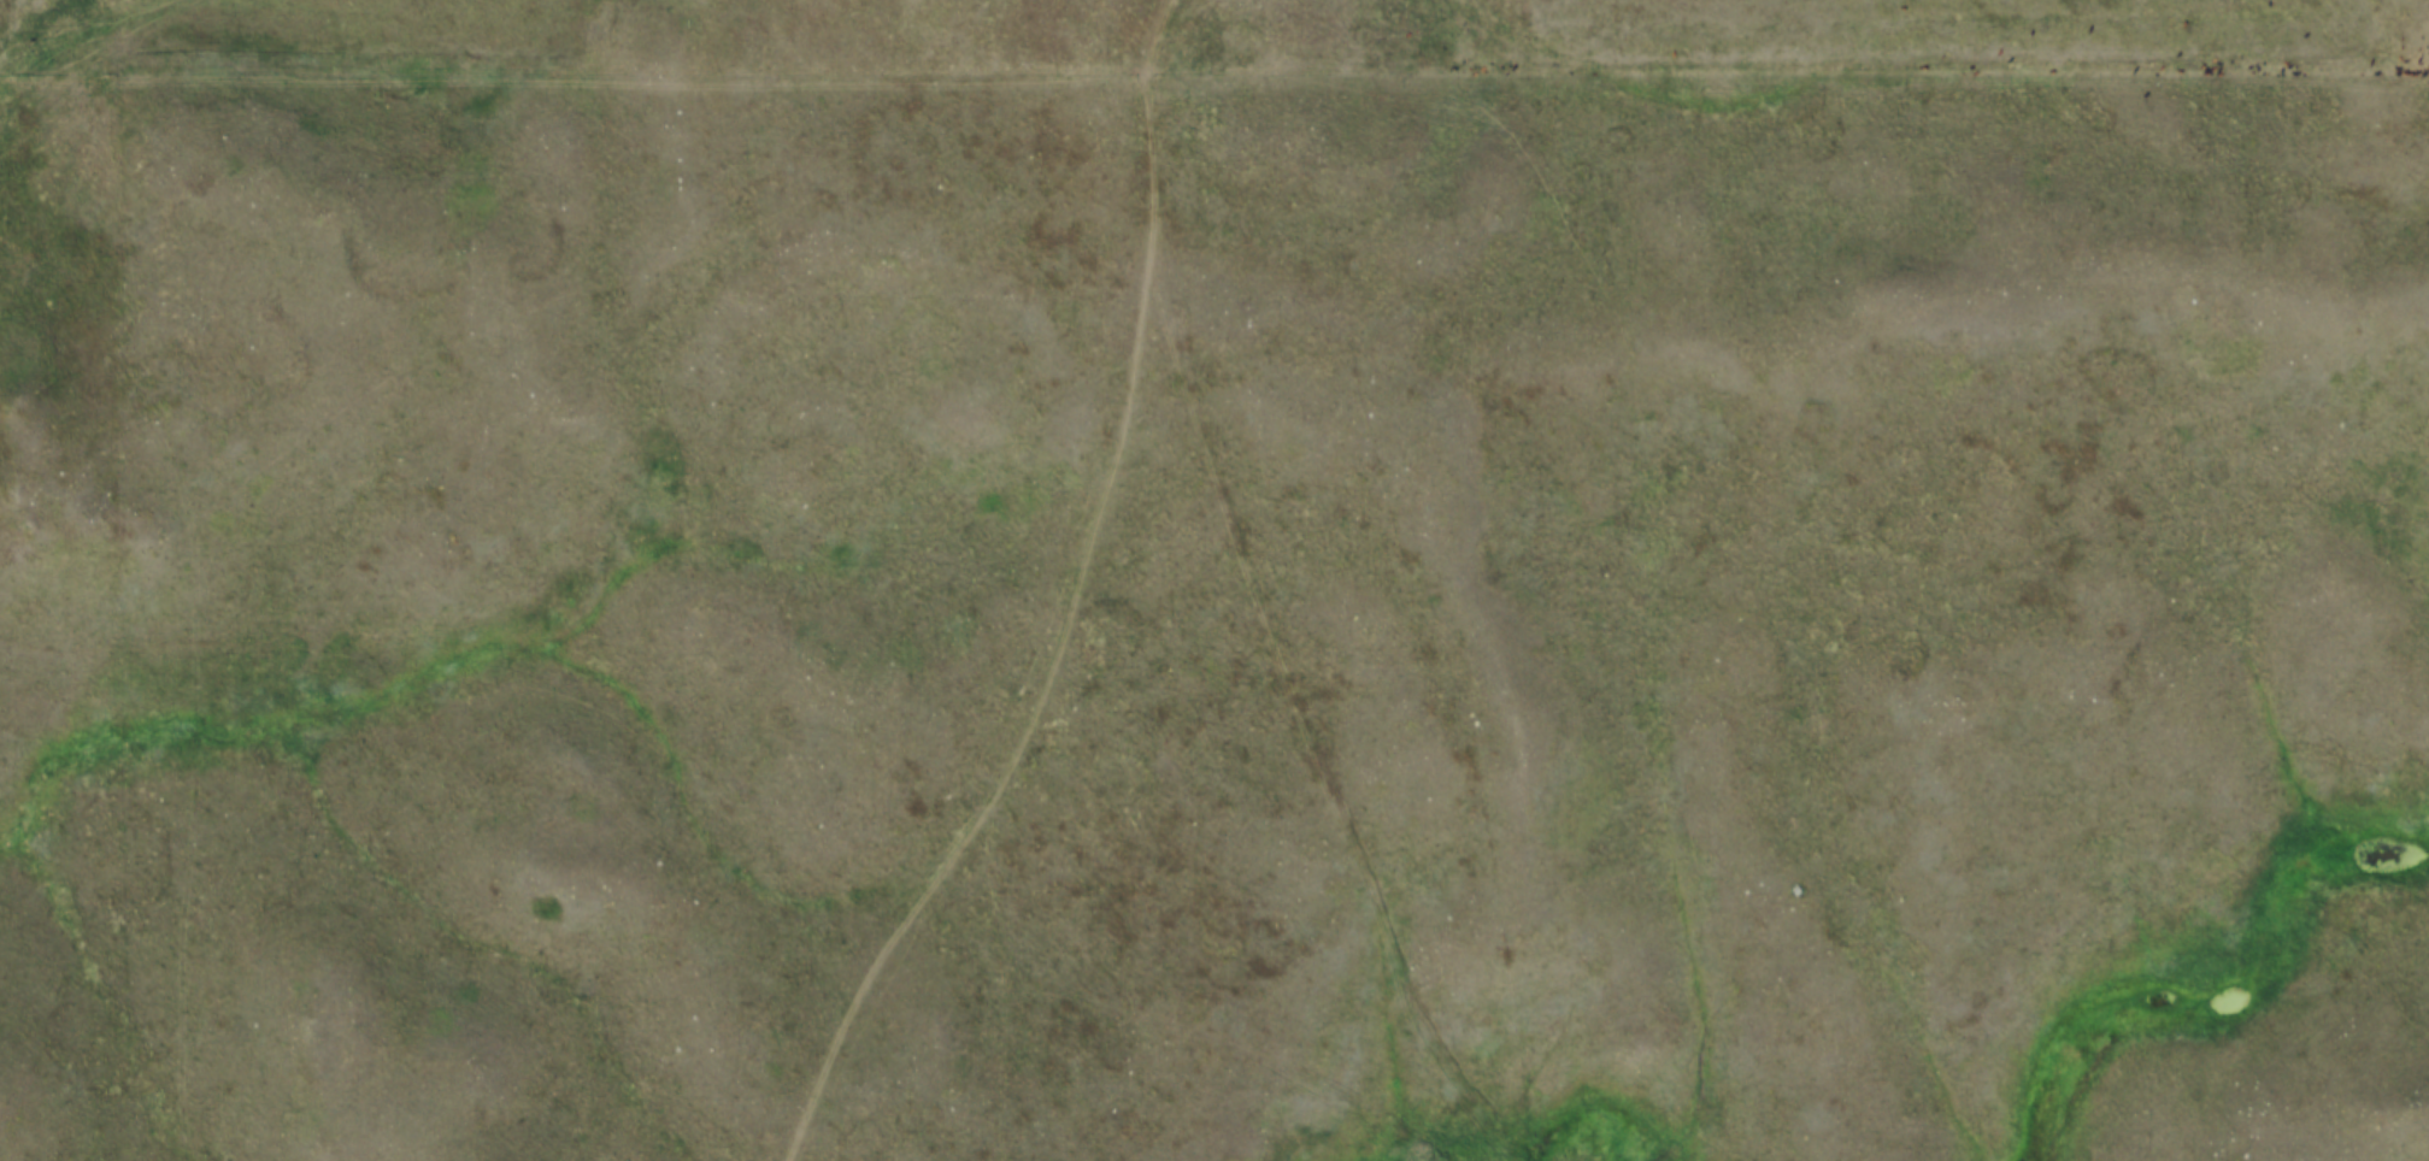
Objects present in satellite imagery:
road: (16, 37)
road: (1114, 491)
road: (1086, 1001)

